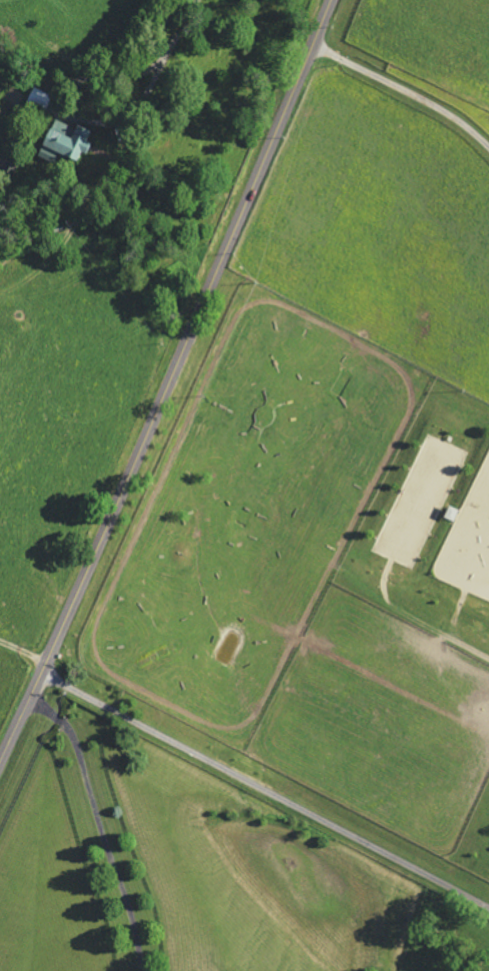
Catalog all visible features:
road: (161, 51)
road: (405, 94)
building: (69, 143)
road: (170, 382)
road: (23, 649)
road: (265, 788)
road: (102, 824)

